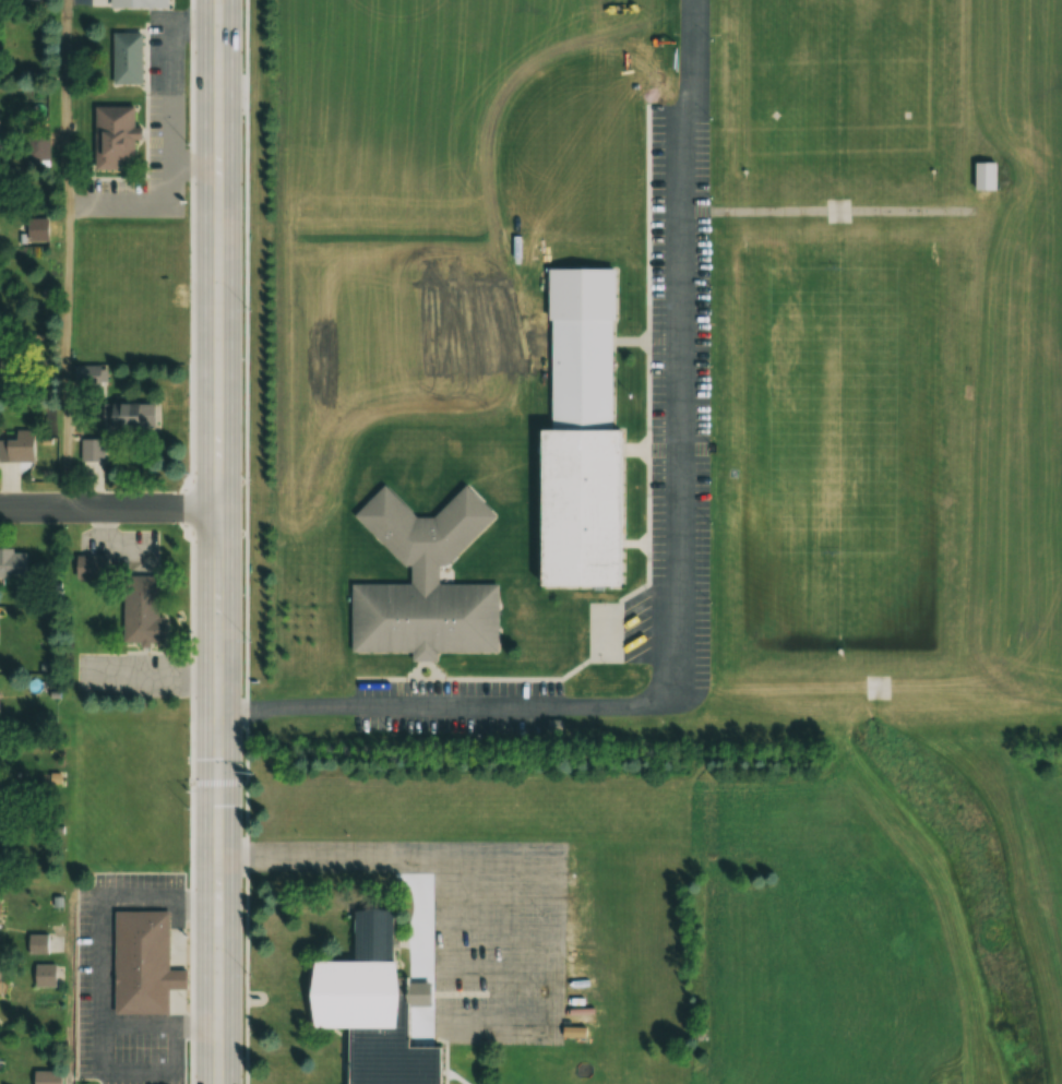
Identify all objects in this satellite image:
building: (136, 1)
street lamp: (243, 25)
building: (124, 58)
building: (111, 134)
building: (983, 175)
street lamp: (243, 201)
park: (837, 210)
building: (35, 229)
road: (65, 253)
street lamp: (713, 282)
street lamp: (713, 362)
street lamp: (244, 376)
park: (832, 409)
building: (123, 419)
building: (575, 432)
street lamp: (712, 441)
building: (88, 450)
road: (108, 507)
street lamp: (709, 519)
road: (217, 541)
building: (10, 564)
building: (88, 567)
street lamp: (244, 568)
road: (675, 571)
building: (422, 580)
street lamp: (709, 598)
building: (139, 608)
park: (606, 632)
park: (878, 687)
street lamp: (476, 729)
street lamp: (397, 730)
street lamp: (244, 739)
road: (557, 909)
street lamp: (244, 929)
building: (140, 962)
building: (43, 975)
road: (68, 988)
building: (374, 1009)
building: (46, 1076)

